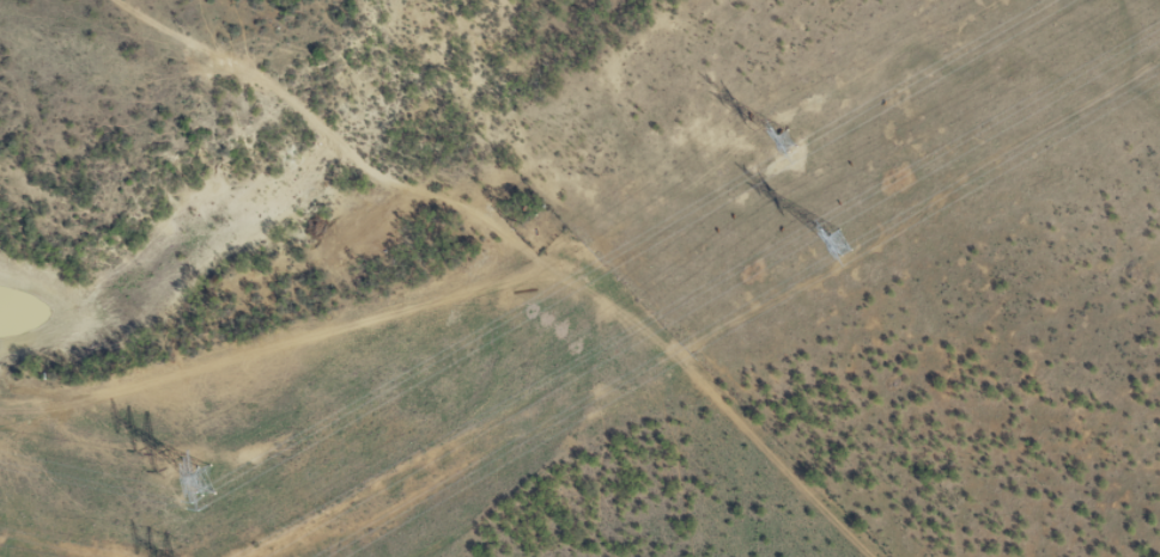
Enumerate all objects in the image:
power tower: (783, 140)
power tower: (836, 240)
power tower: (201, 478)

